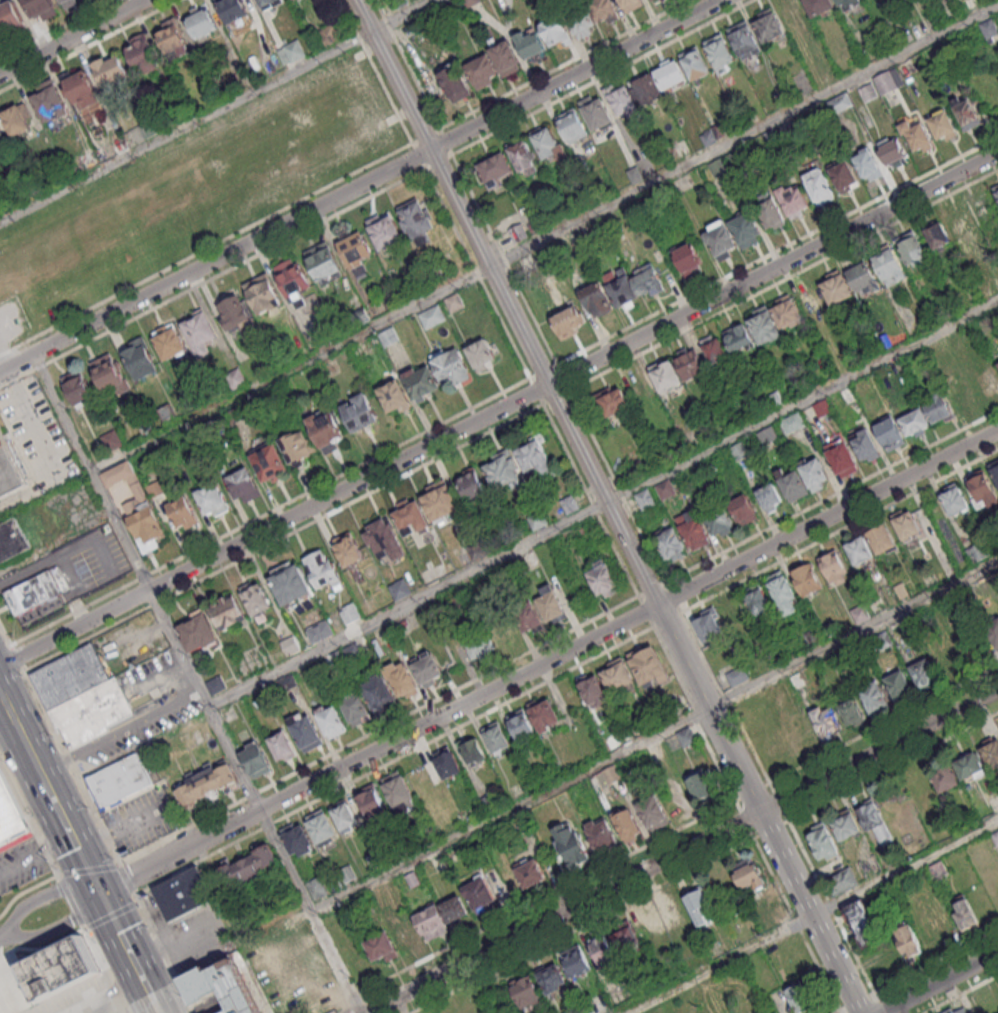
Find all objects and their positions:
building: (69, 2)
building: (470, 2)
building: (269, 3)
building: (847, 3)
building: (630, 4)
building: (818, 6)
building: (40, 8)
building: (233, 9)
building: (605, 10)
building: (793, 14)
building: (9, 19)
building: (201, 20)
building: (582, 22)
building: (767, 25)
building: (555, 31)
building: (328, 34)
road: (73, 37)
building: (172, 38)
building: (743, 39)
building: (529, 43)
road: (90, 46)
building: (291, 51)
building: (719, 52)
building: (141, 53)
building: (694, 63)
building: (493, 65)
building: (111, 70)
road: (377, 72)
building: (888, 80)
building: (454, 84)
building: (647, 87)
building: (81, 89)
building: (49, 103)
road: (214, 110)
building: (596, 111)
building: (965, 111)
building: (17, 120)
building: (572, 125)
building: (942, 125)
building: (1, 134)
building: (917, 137)
building: (548, 143)
building: (892, 152)
building: (521, 156)
building: (867, 164)
building: (495, 170)
building: (844, 175)
road: (360, 184)
building: (818, 186)
building: (995, 190)
building: (793, 199)
building: (769, 210)
building: (982, 211)
building: (416, 220)
building: (746, 229)
building: (384, 230)
building: (518, 232)
building: (937, 235)
road: (544, 237)
building: (720, 240)
building: (912, 249)
road: (206, 250)
building: (357, 253)
building: (687, 258)
building: (324, 263)
building: (889, 266)
road: (213, 278)
building: (863, 278)
building: (294, 281)
building: (836, 286)
building: (621, 289)
building: (262, 292)
road: (510, 301)
building: (235, 314)
building: (432, 316)
building: (774, 319)
building: (568, 321)
parking lot: (13, 323)
building: (199, 332)
building: (738, 338)
building: (169, 341)
building: (714, 349)
building: (483, 353)
building: (140, 357)
building: (689, 362)
building: (997, 362)
building: (451, 366)
building: (110, 373)
building: (665, 374)
building: (421, 382)
building: (987, 382)
building: (78, 386)
building: (963, 395)
building: (394, 396)
building: (612, 401)
building: (937, 407)
road: (498, 408)
building: (359, 412)
building: (792, 422)
building: (915, 422)
building: (327, 429)
building: (889, 432)
parking lot: (34, 440)
building: (864, 445)
building: (298, 447)
road: (44, 451)
building: (536, 457)
building: (841, 458)
building: (270, 462)
building: (9, 470)
building: (994, 470)
building: (503, 471)
building: (804, 478)
building: (980, 484)
building: (243, 485)
building: (472, 485)
building: (665, 489)
building: (770, 497)
building: (645, 499)
building: (953, 499)
building: (212, 500)
building: (440, 501)
road: (602, 502)
building: (138, 507)
building: (743, 509)
building: (183, 514)
road: (829, 515)
building: (410, 517)
building: (719, 521)
building: (906, 525)
building: (693, 529)
building: (384, 539)
building: (12, 540)
building: (880, 540)
building: (670, 544)
building: (348, 548)
building: (859, 551)
building: (833, 567)
building: (323, 569)
building: (603, 579)
building: (806, 579)
building: (290, 583)
building: (399, 588)
building: (33, 592)
building: (783, 592)
building: (757, 600)
building: (551, 604)
building: (227, 612)
building: (732, 612)
building: (349, 613)
building: (529, 616)
building: (707, 625)
building: (319, 631)
building: (992, 631)
building: (197, 632)
building: (290, 645)
building: (480, 645)
building: (948, 660)
building: (648, 667)
building: (427, 668)
building: (924, 672)
building: (735, 677)
building: (402, 678)
building: (618, 678)
road: (197, 683)
building: (899, 685)
building: (593, 689)
building: (378, 692)
building: (82, 696)
building: (874, 697)
road: (710, 707)
building: (354, 708)
building: (851, 711)
road: (11, 712)
building: (544, 714)
building: (331, 719)
building: (826, 721)
building: (521, 724)
building: (305, 730)
road: (652, 733)
building: (802, 734)
building: (685, 736)
building: (497, 739)
building: (282, 746)
road: (380, 748)
road: (880, 750)
building: (474, 751)
building: (990, 753)
road: (34, 758)
building: (255, 759)
building: (447, 763)
building: (972, 770)
building: (611, 773)
building: (119, 780)
building: (945, 780)
building: (205, 782)
building: (698, 788)
building: (399, 791)
building: (371, 801)
building: (653, 812)
building: (10, 816)
building: (344, 816)
road: (96, 818)
building: (875, 820)
parking lot: (142, 821)
building: (625, 824)
building: (845, 824)
building: (321, 826)
building: (602, 834)
road: (72, 836)
building: (296, 838)
building: (823, 840)
building: (570, 844)
road: (35, 853)
parking lot: (20, 865)
building: (247, 868)
building: (937, 869)
building: (530, 873)
traffic signals: (92, 875)
building: (747, 877)
building: (843, 880)
road: (63, 885)
traffic signals: (100, 891)
road: (25, 892)
building: (183, 893)
building: (479, 894)
road: (40, 899)
traffic signals: (107, 905)
building: (698, 906)
building: (453, 911)
road: (564, 912)
road: (809, 912)
building: (963, 913)
building: (679, 916)
road: (812, 917)
building: (431, 920)
building: (863, 924)
building: (653, 927)
road: (56, 929)
building: (404, 933)
road: (0, 938)
building: (626, 938)
road: (125, 942)
building: (907, 942)
building: (379, 945)
road: (43, 949)
building: (602, 950)
building: (575, 959)
building: (59, 968)
building: (550, 976)
building: (273, 977)
road: (938, 982)
building: (220, 986)
building: (524, 991)
building: (799, 997)
road: (155, 1003)
parking lot: (119, 1010)
building: (948, 1010)

